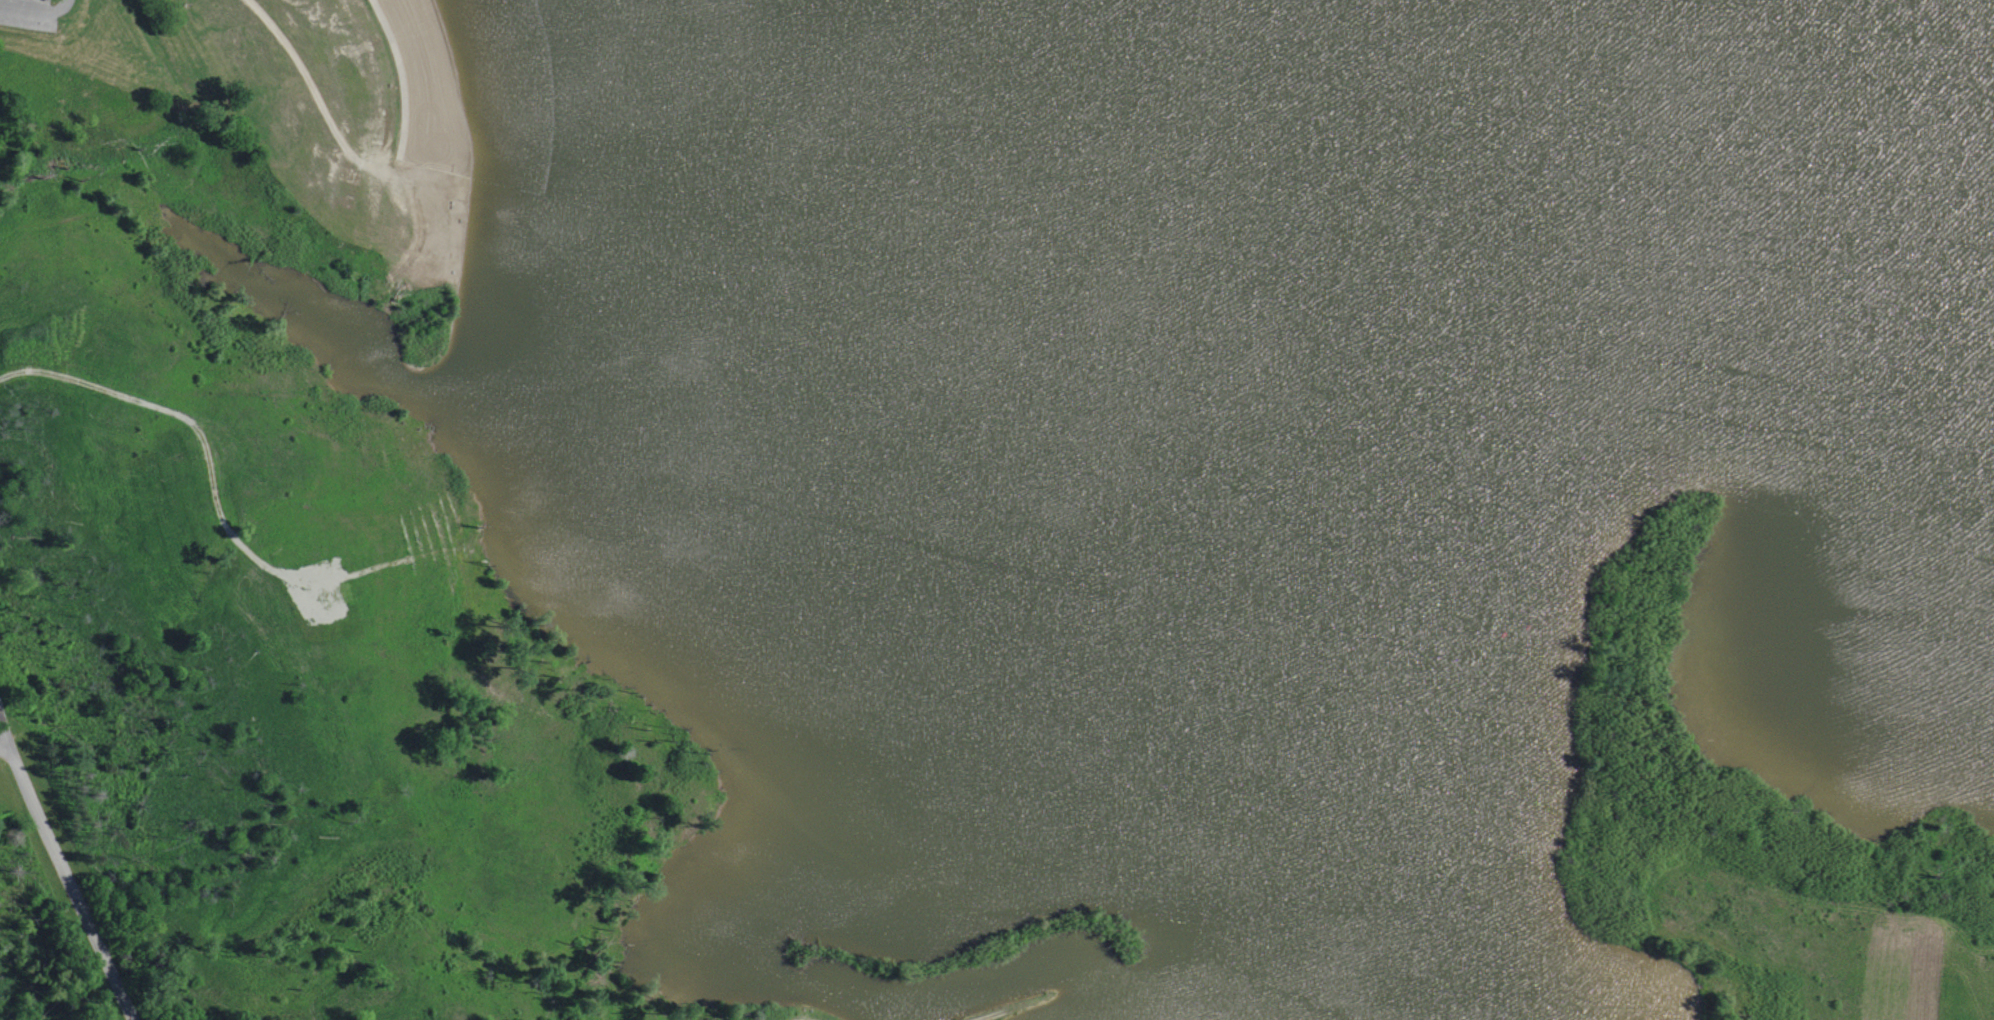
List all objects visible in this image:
road: (34, 8)
parking lot: (25, 13)
road: (402, 78)
road: (323, 108)
road: (216, 503)
road: (2, 738)
road: (2, 747)
road: (66, 884)
road: (1956, 962)
road: (986, 1014)
parking lot: (795, 1018)

